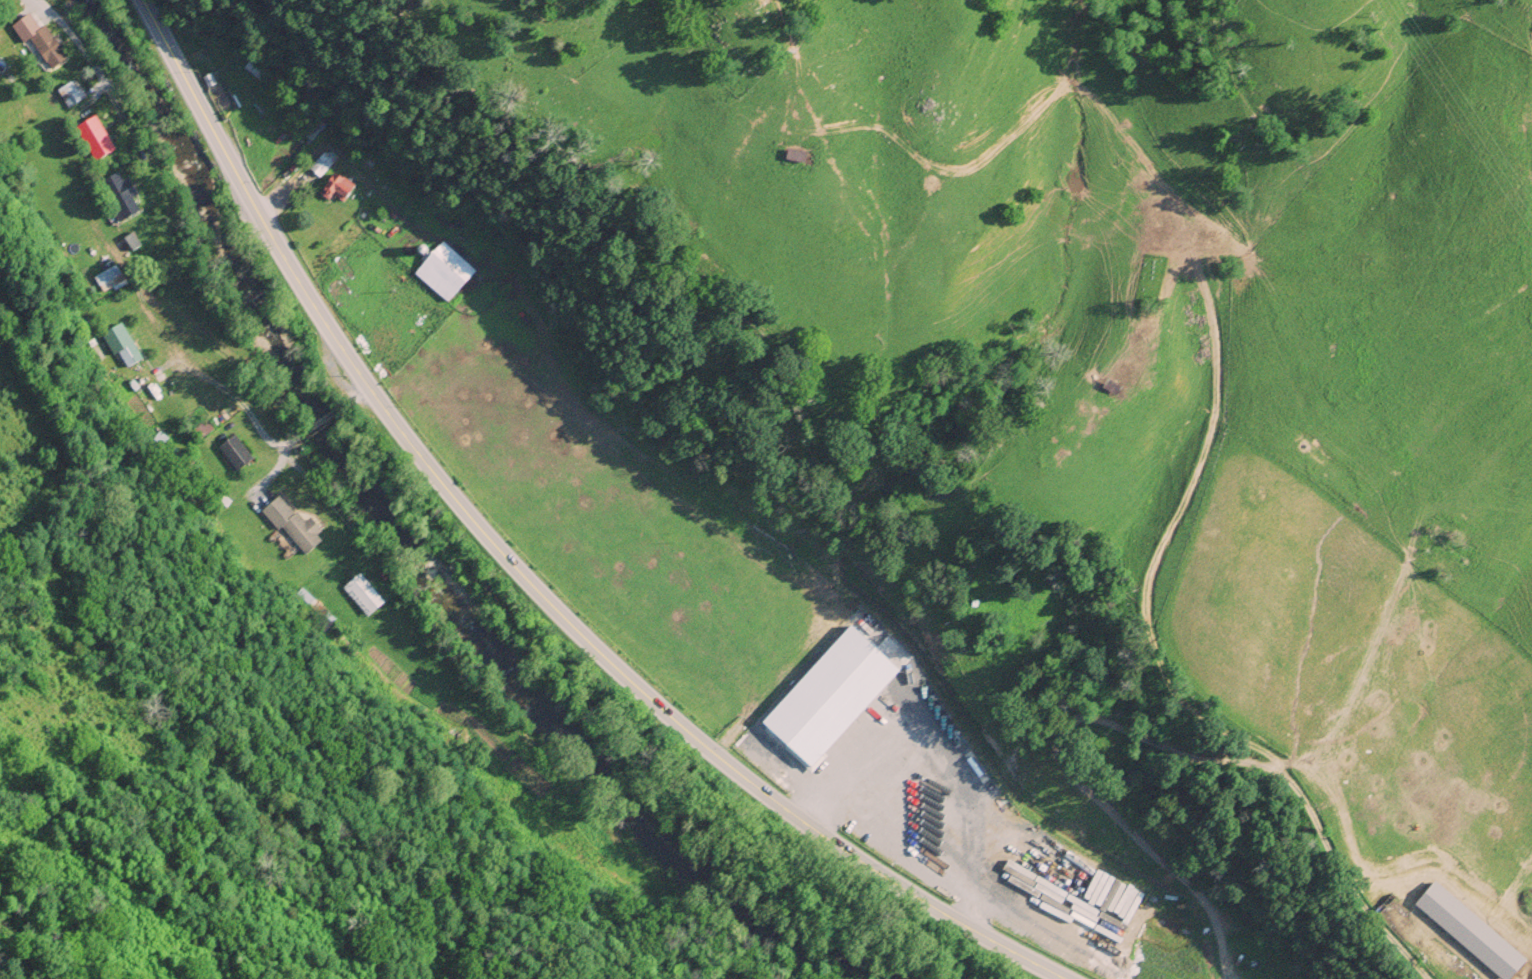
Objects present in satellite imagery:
building: (38, 39)
road: (87, 55)
building: (256, 68)
building: (70, 92)
building: (93, 137)
building: (792, 156)
building: (317, 166)
building: (335, 187)
building: (117, 196)
building: (442, 271)
building: (107, 278)
building: (125, 350)
crop: (1412, 354)
road: (353, 397)
road: (321, 419)
road: (293, 440)
building: (232, 455)
road: (303, 467)
building: (288, 526)
river: (408, 559)
road: (518, 571)
building: (361, 595)
crop: (1367, 703)
building: (776, 721)
road: (1140, 734)
road: (924, 855)

